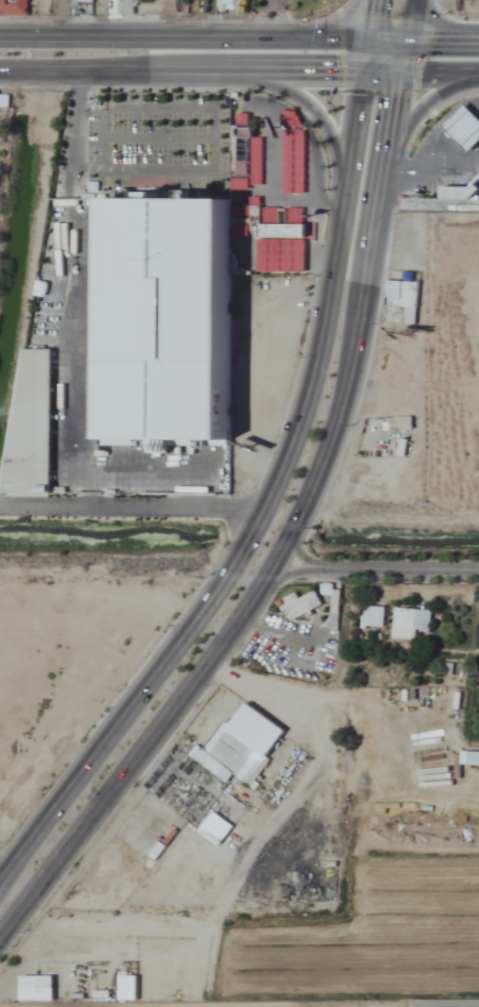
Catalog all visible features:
gas station: (466, 126)
crop: (279, 951)

